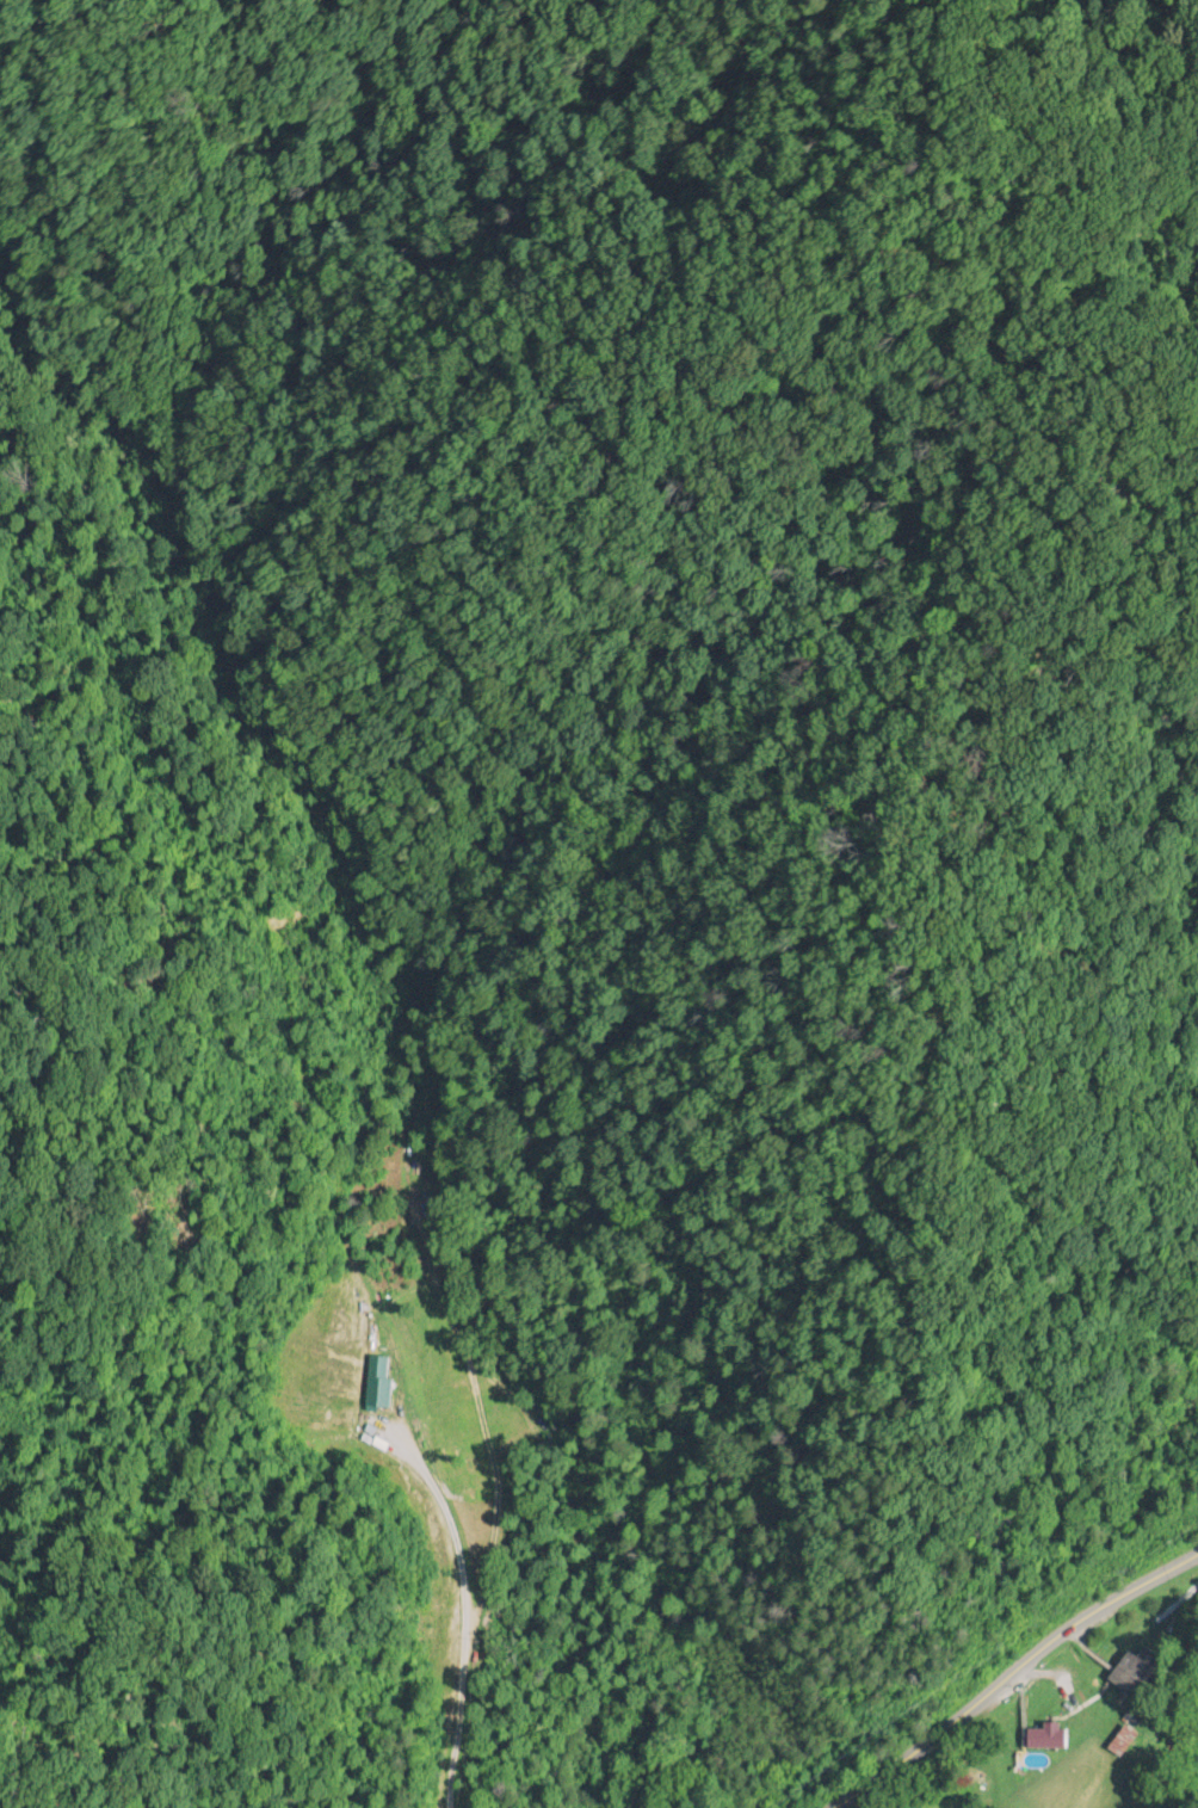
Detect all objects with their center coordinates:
road: (961, 1671)

